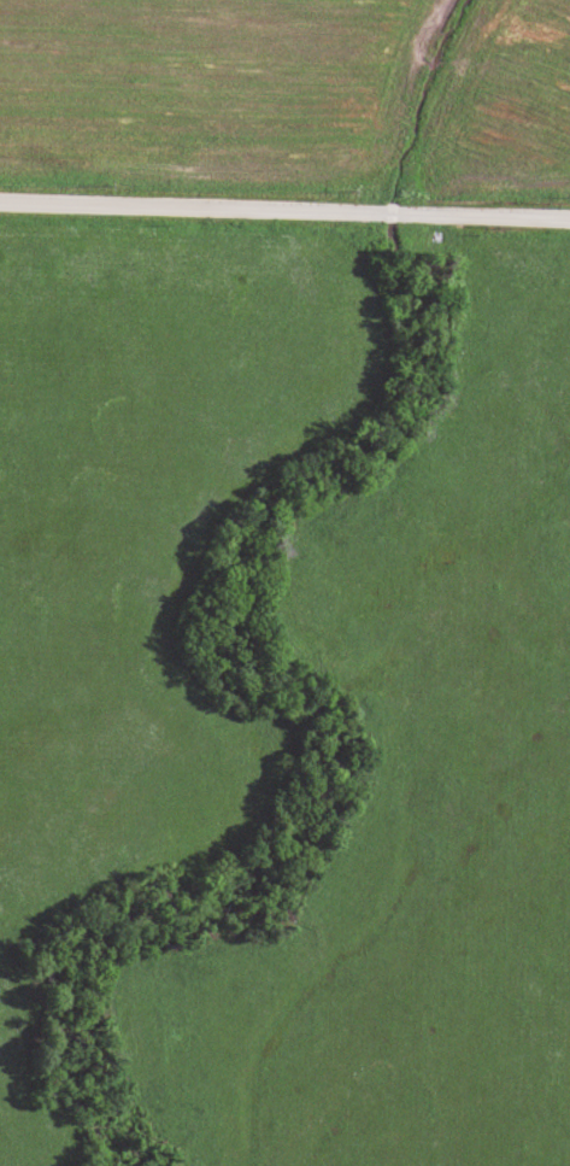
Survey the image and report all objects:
road: (284, 209)

